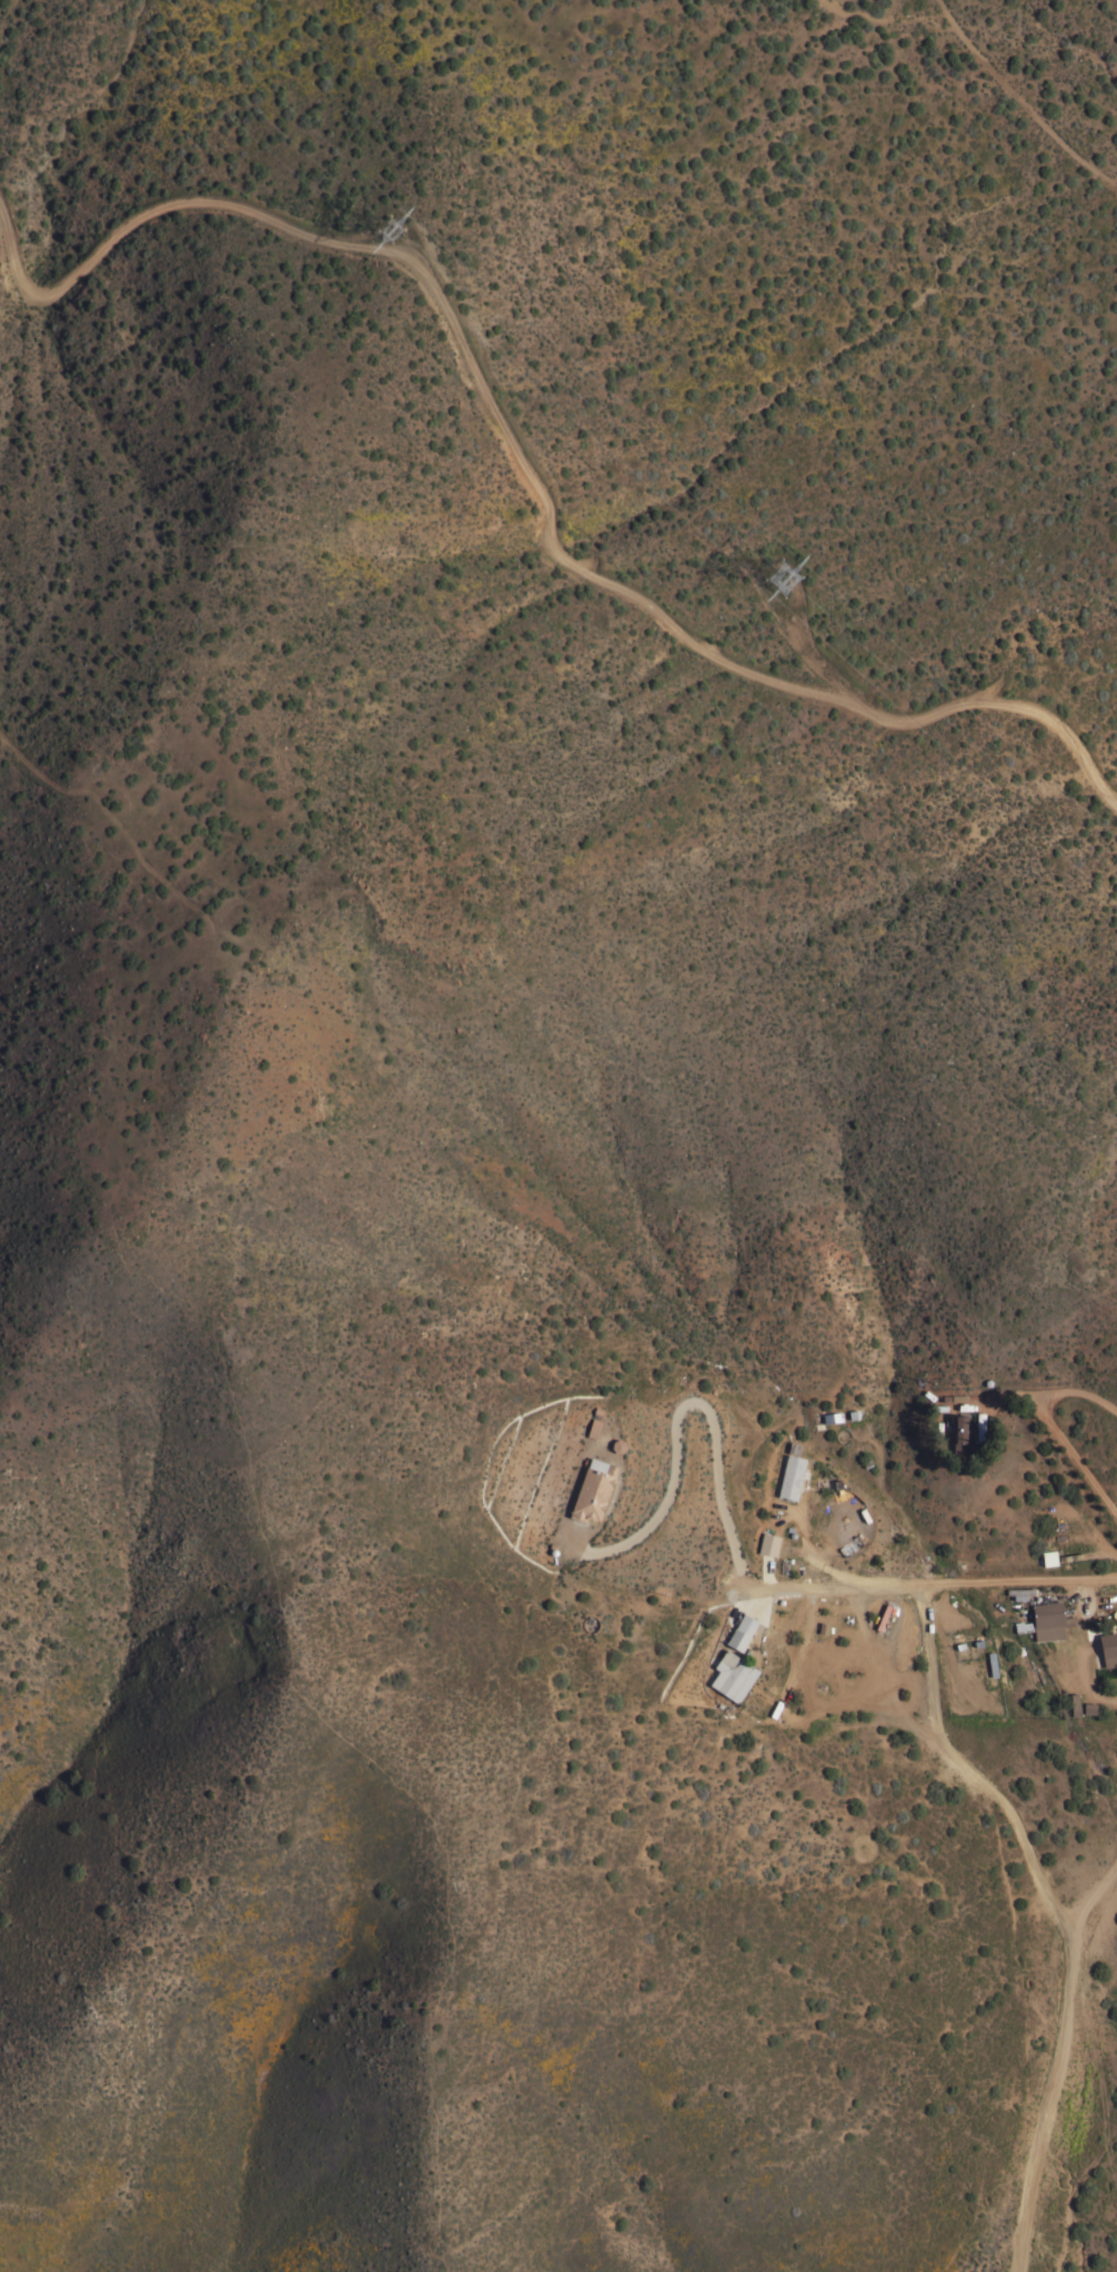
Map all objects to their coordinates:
power tower: (390, 229)
road: (523, 466)
power tower: (772, 590)
road: (806, 649)
road: (683, 1401)
building: (833, 1417)
building: (979, 1422)
building: (594, 1428)
building: (962, 1433)
road: (1063, 1440)
building: (618, 1444)
building: (792, 1475)
building: (593, 1490)
building: (769, 1544)
building: (1049, 1557)
road: (933, 1585)
building: (1020, 1592)
building: (1046, 1621)
building: (742, 1632)
building: (1108, 1648)
building: (992, 1663)
road: (882, 1671)
building: (733, 1672)
building: (1075, 1703)
road: (1094, 1898)
road: (1058, 1910)

